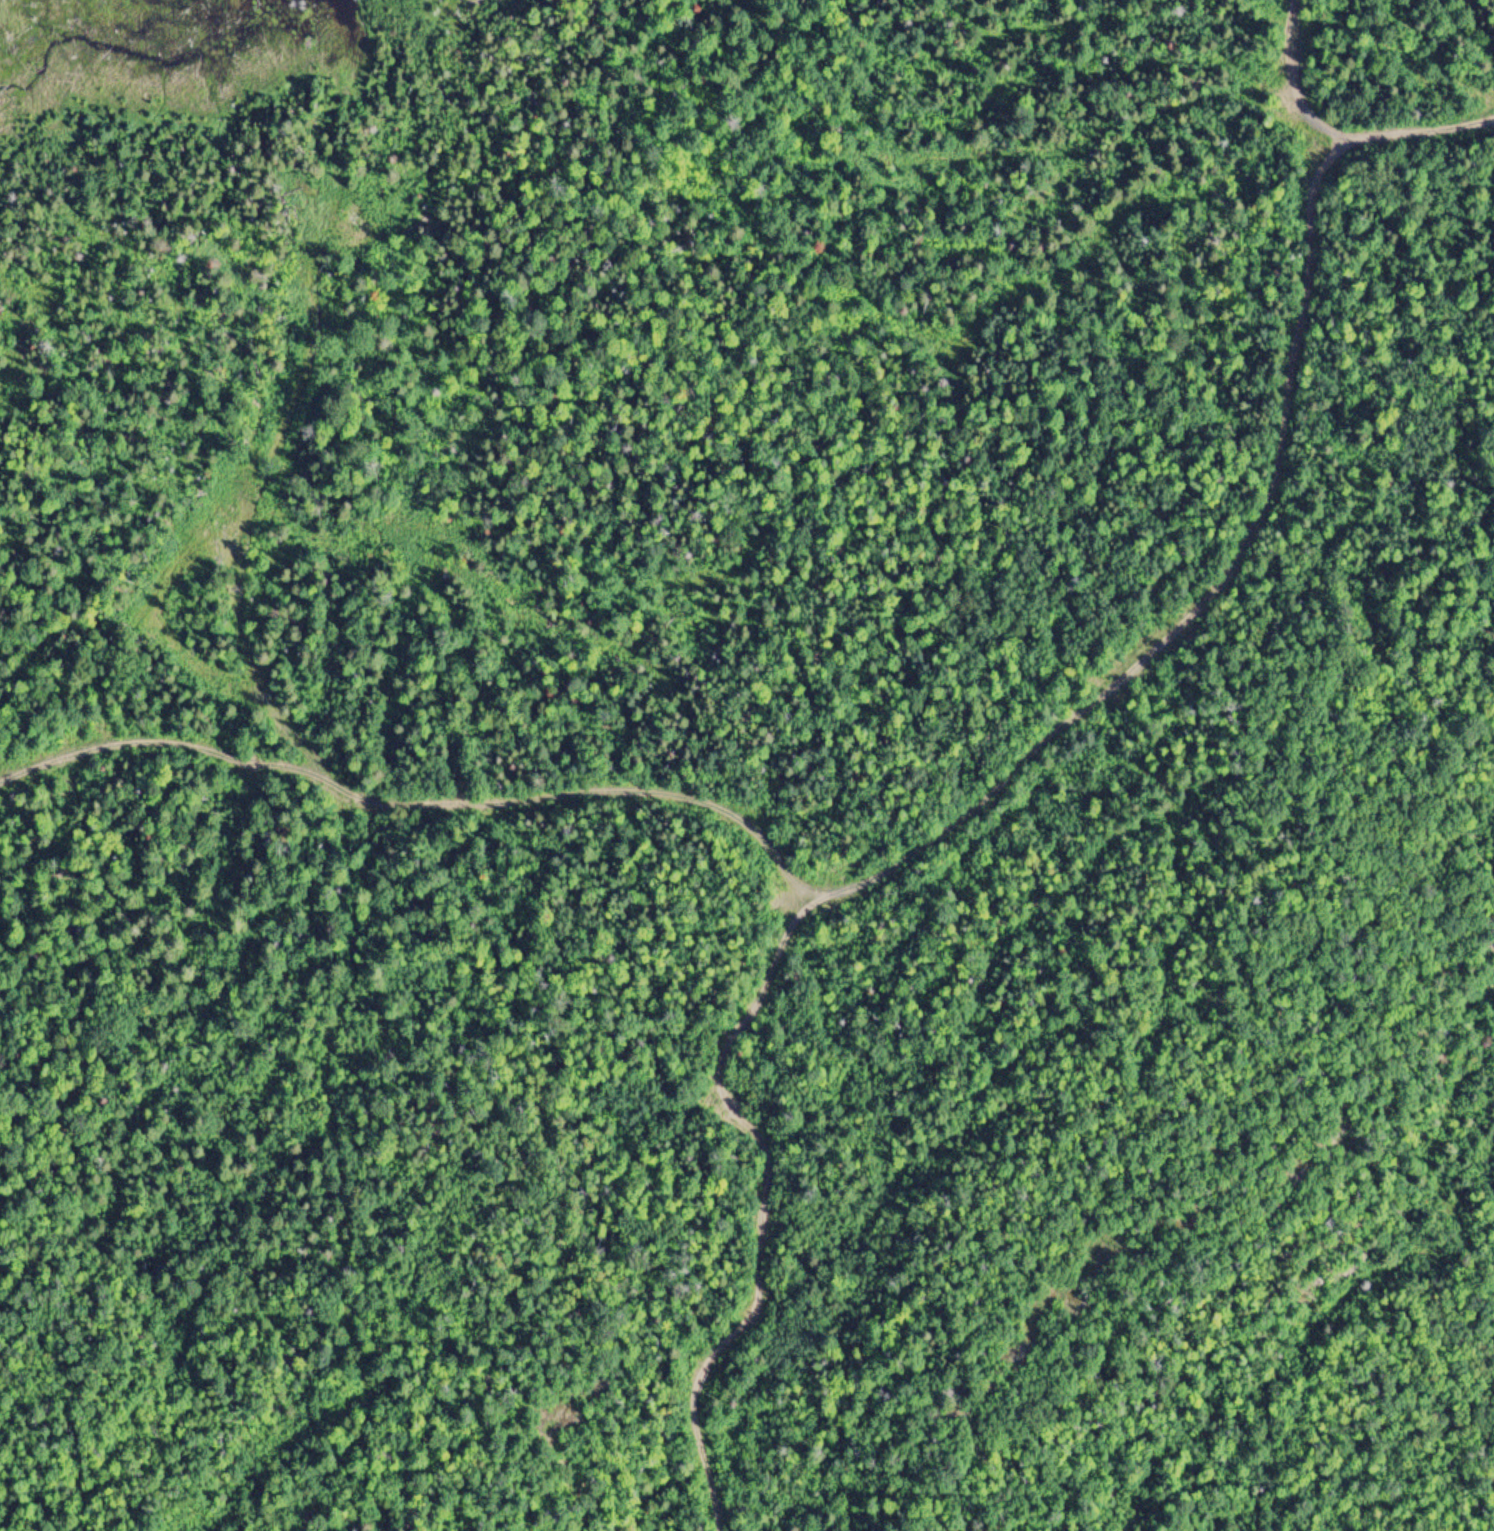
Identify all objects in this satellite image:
road: (936, 844)

